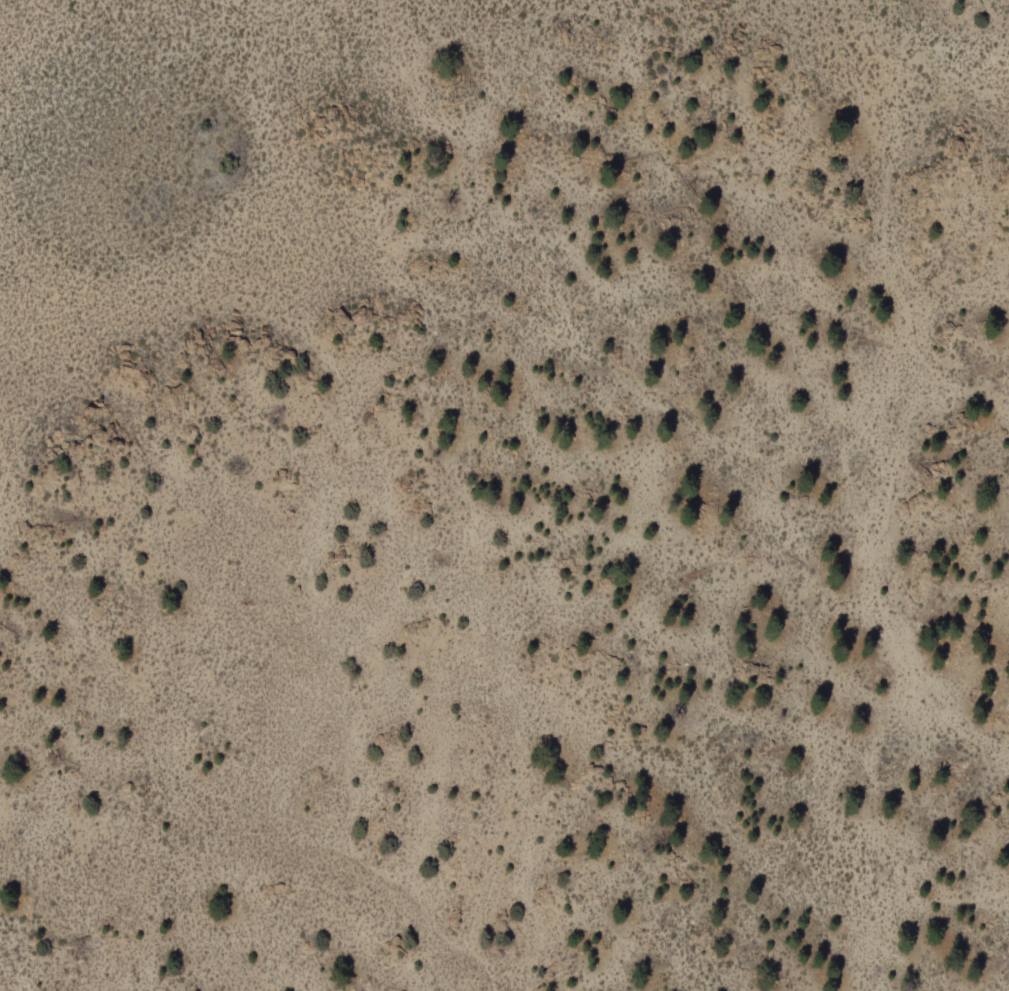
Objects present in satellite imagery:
road: (884, 604)

